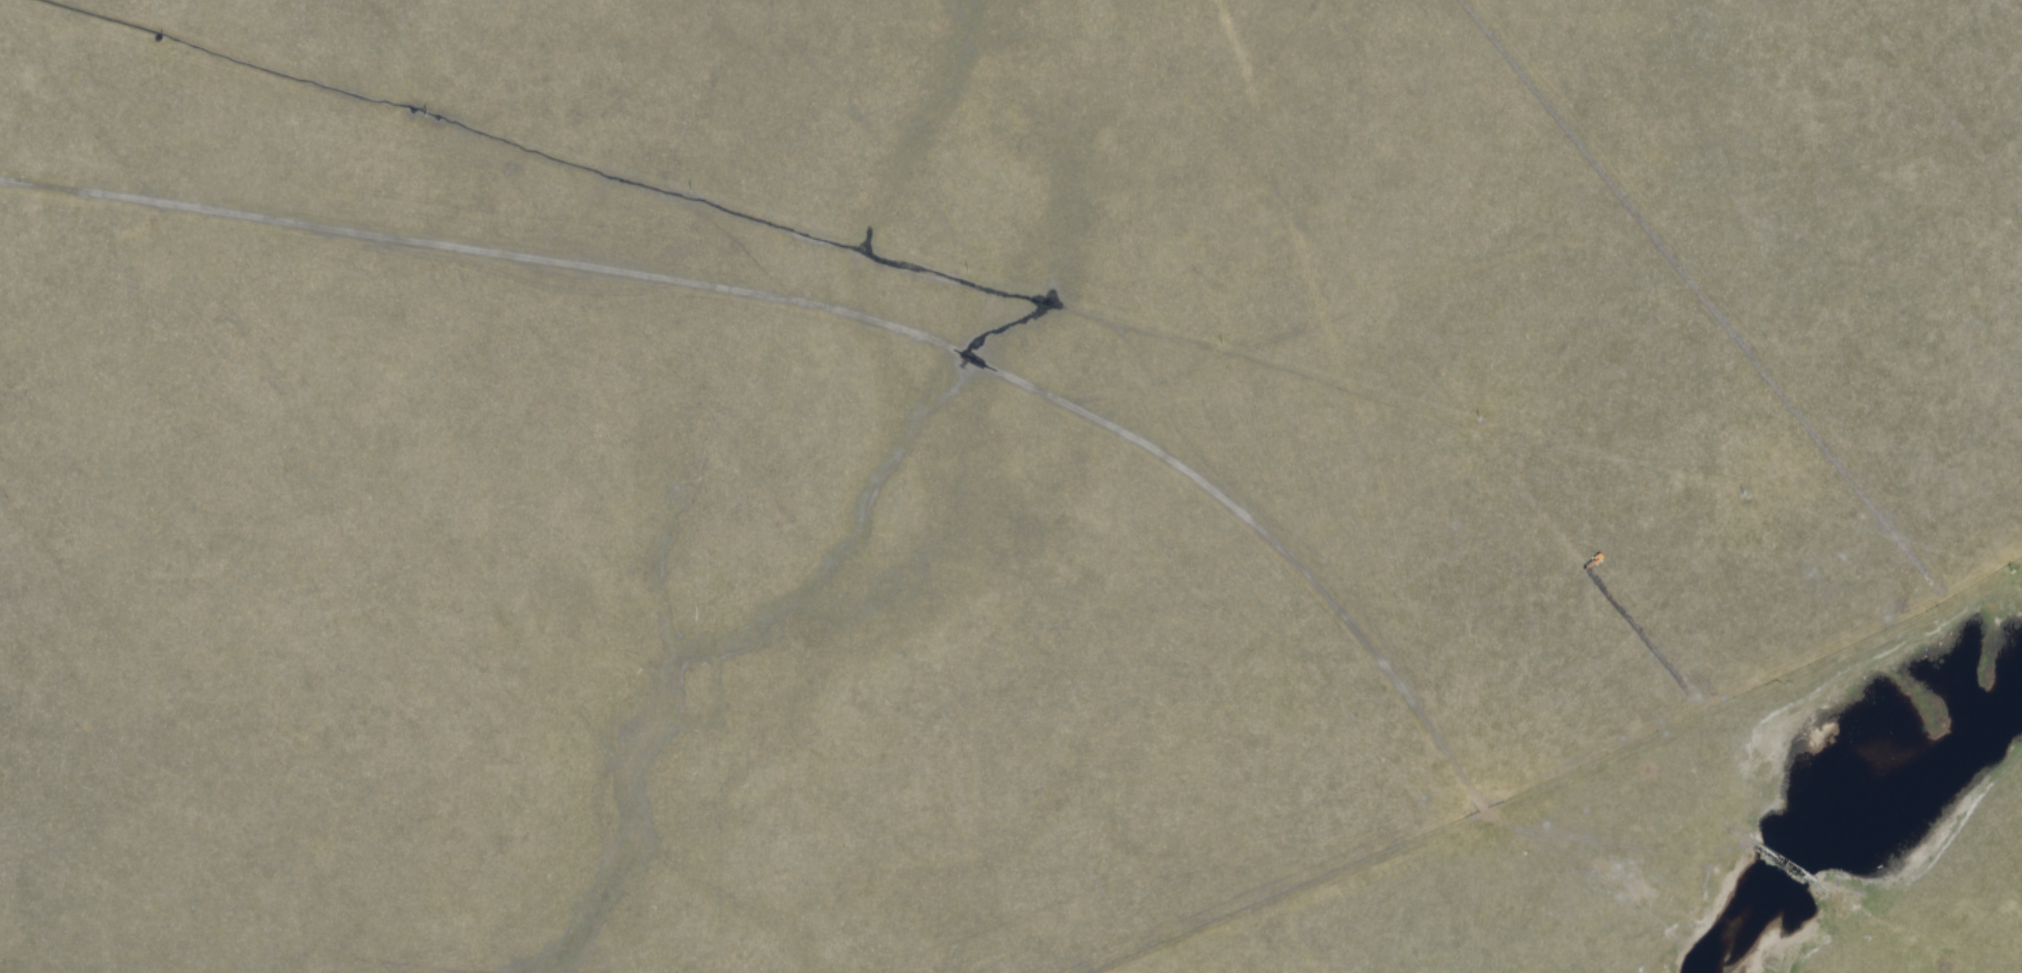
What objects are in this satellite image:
river: (1877, 820)

